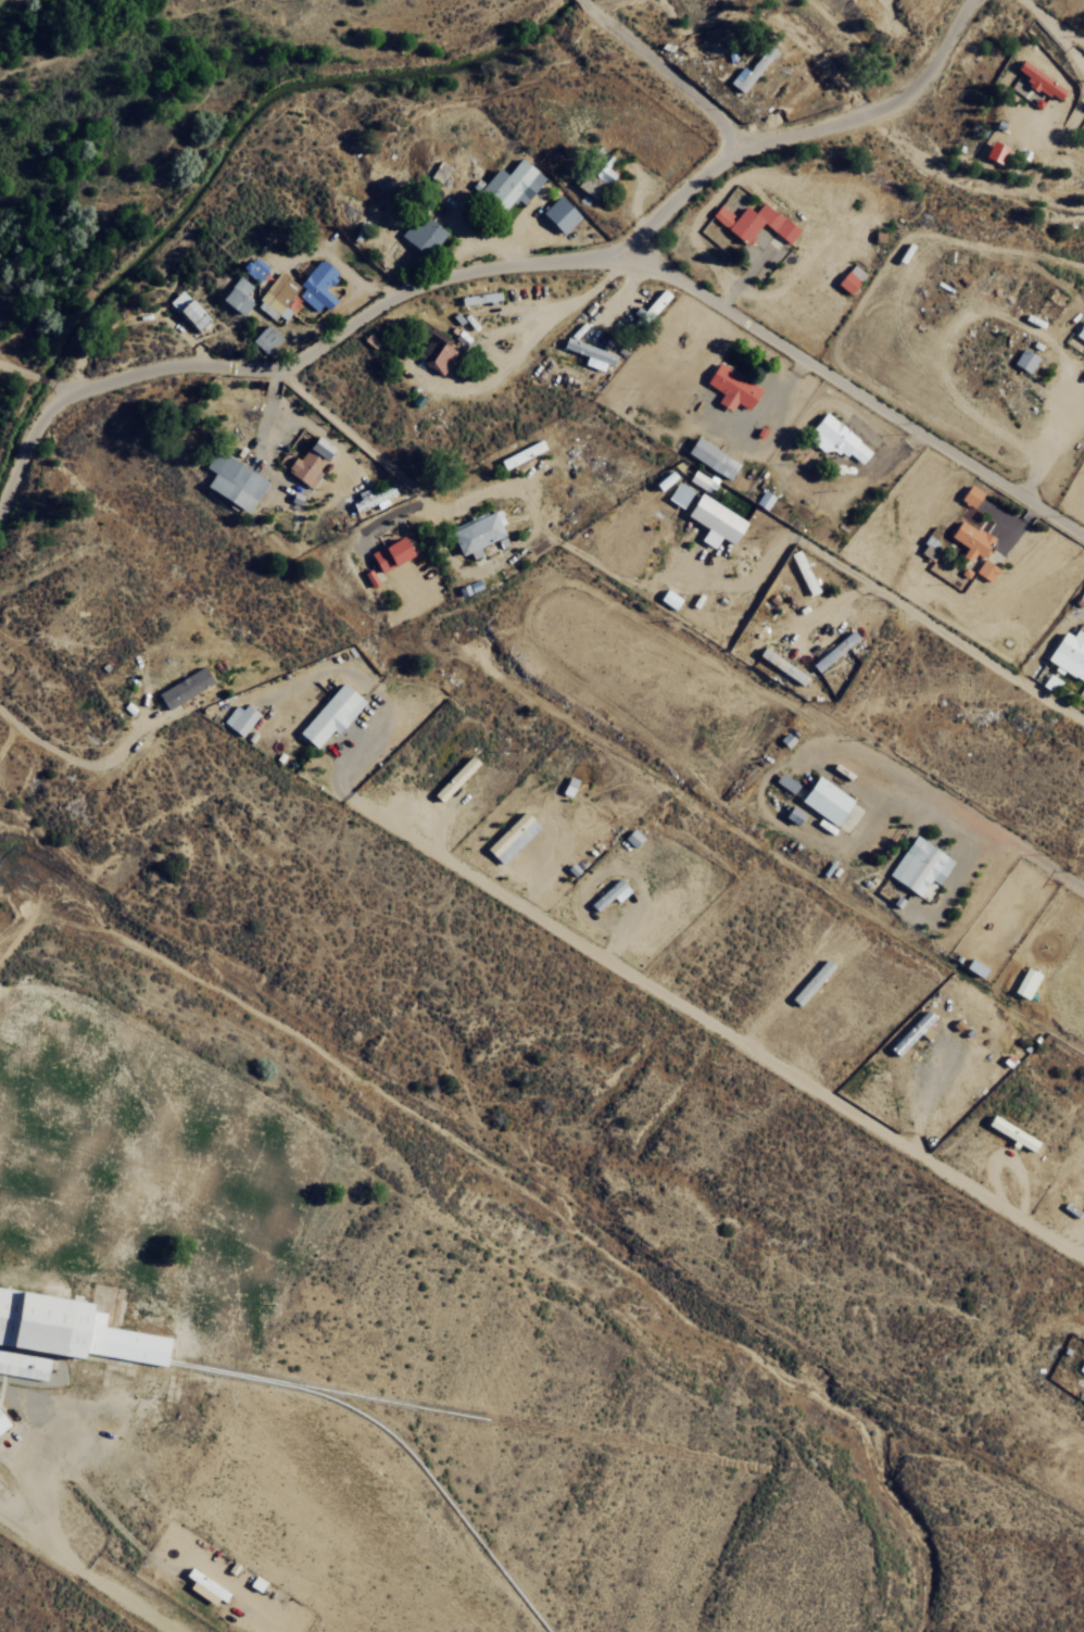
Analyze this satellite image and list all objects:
road: (922, 30)
building: (749, 71)
building: (1038, 80)
building: (438, 172)
building: (595, 178)
building: (511, 185)
building: (558, 215)
building: (753, 223)
building: (421, 235)
road: (497, 255)
building: (849, 278)
building: (316, 286)
building: (236, 296)
building: (277, 297)
building: (479, 298)
building: (187, 310)
building: (1080, 331)
building: (265, 339)
building: (590, 354)
building: (440, 357)
building: (1024, 360)
road: (21, 372)
road: (426, 375)
road: (203, 377)
building: (731, 388)
road: (856, 401)
building: (836, 440)
building: (520, 454)
building: (711, 457)
building: (308, 462)
building: (702, 480)
building: (232, 481)
road: (401, 490)
building: (679, 494)
building: (970, 497)
building: (371, 498)
building: (764, 500)
building: (714, 520)
building: (477, 533)
building: (970, 540)
building: (929, 548)
building: (390, 554)
building: (985, 570)
building: (803, 572)
building: (369, 578)
building: (668, 599)
building: (833, 651)
building: (1069, 654)
building: (781, 666)
building: (1049, 682)
building: (184, 688)
building: (329, 715)
building: (238, 719)
building: (453, 779)
building: (785, 782)
building: (824, 801)
building: (511, 838)
building: (632, 838)
road: (1043, 857)
building: (918, 865)
building: (609, 894)
building: (810, 982)
building: (1025, 982)
building: (923, 1026)
road: (719, 1027)
building: (1011, 1132)
building: (61, 1331)
building: (1081, 1367)
building: (2, 1422)
road: (1029, 1599)

